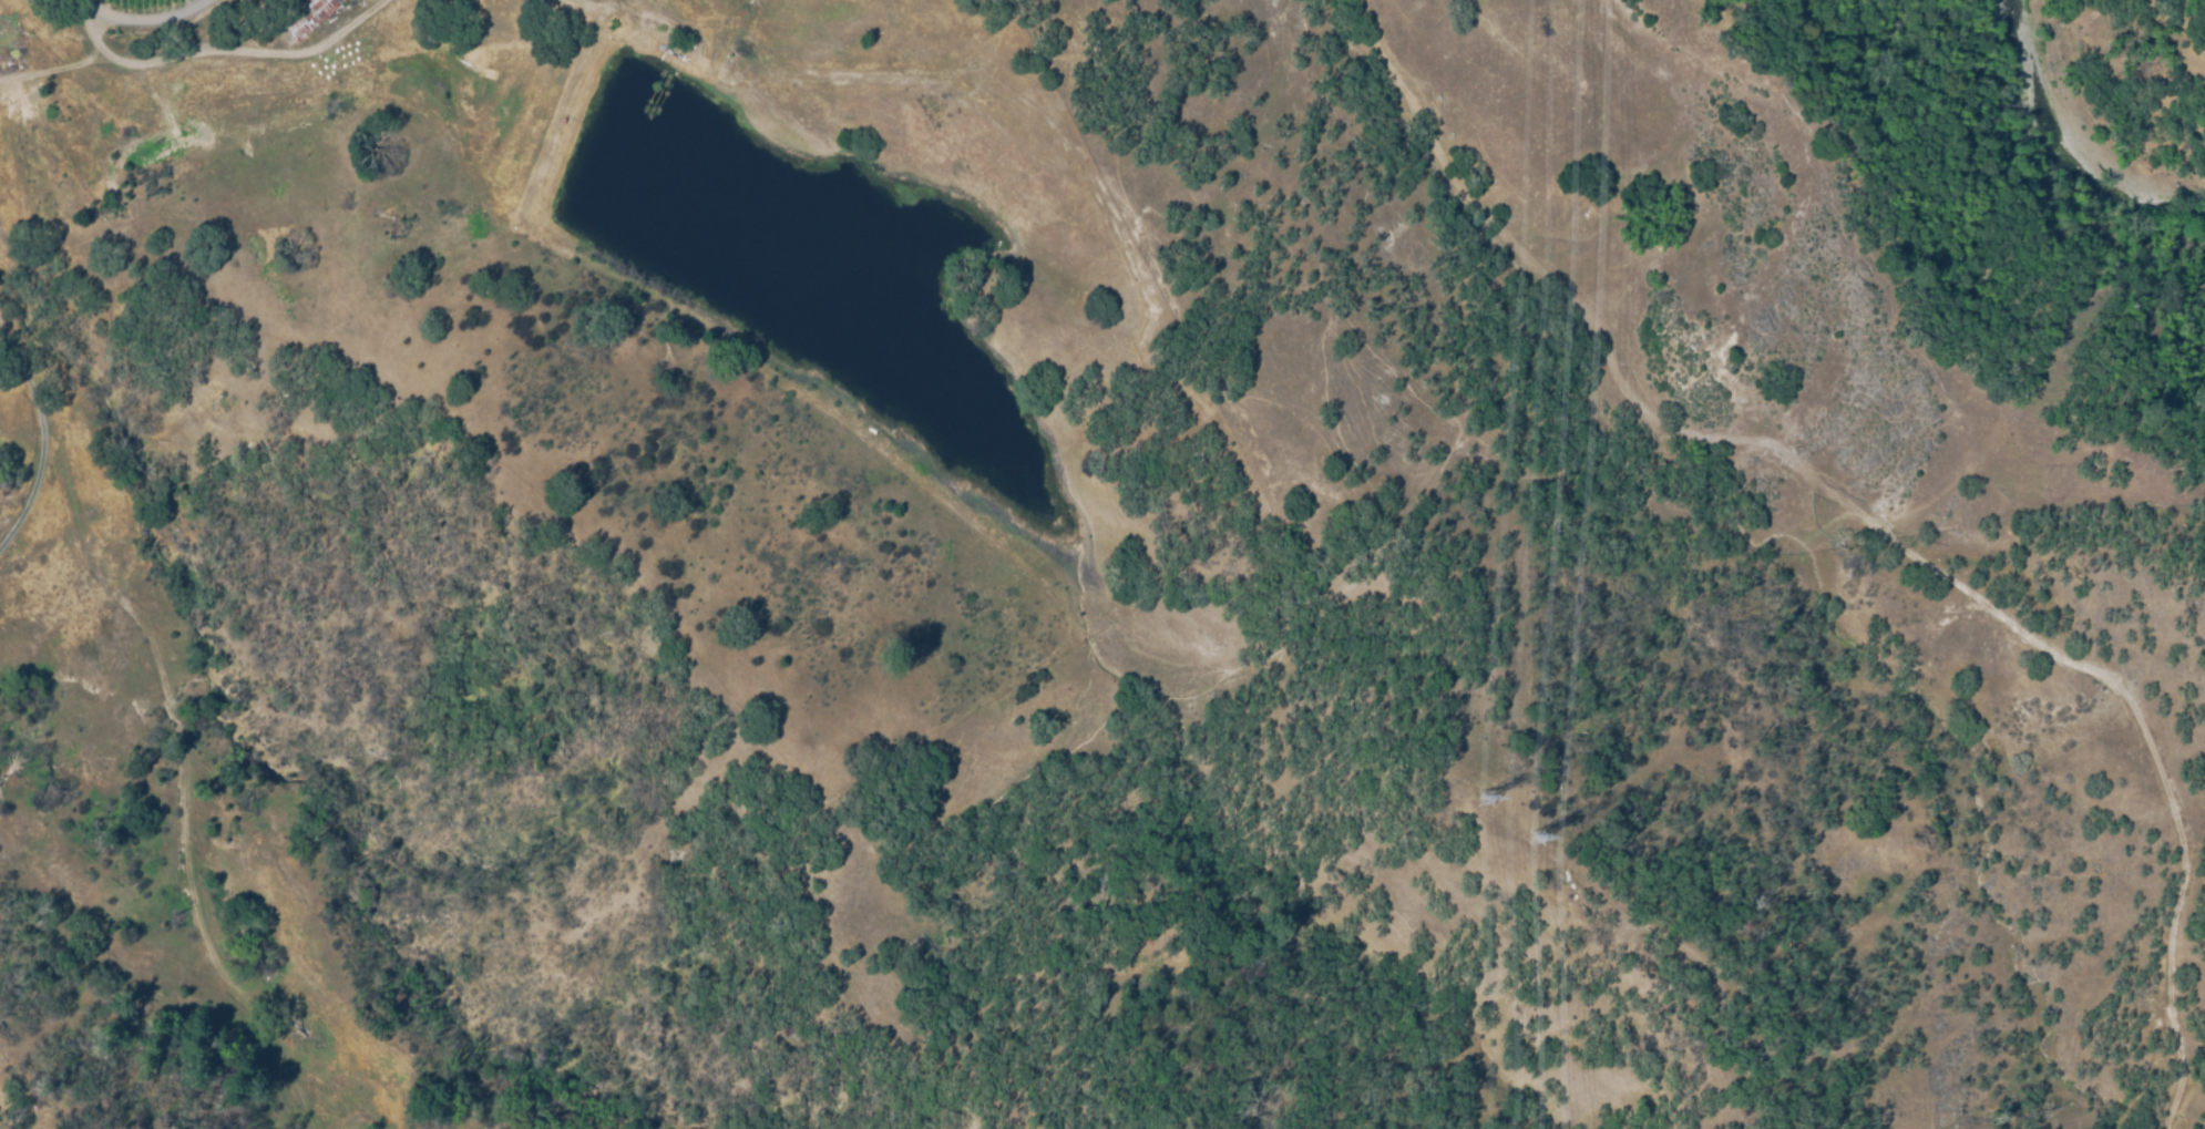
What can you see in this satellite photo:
building: (310, 18)
road: (148, 21)
road: (224, 49)
building: (203, 136)
power tower: (1490, 801)
power tower: (1543, 843)

